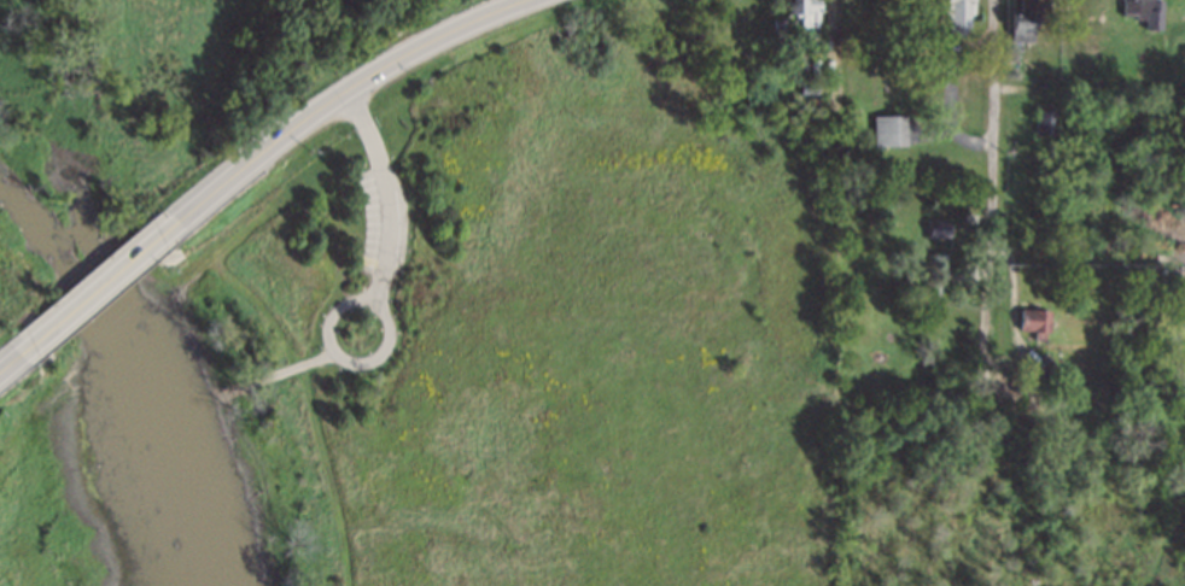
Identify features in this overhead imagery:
building: (1146, 11)
building: (807, 12)
building: (958, 17)
building: (1023, 28)
road: (343, 94)
building: (1047, 119)
building: (891, 131)
road: (990, 184)
parking lot: (372, 219)
building: (939, 229)
road: (1087, 254)
river: (59, 260)
road: (101, 286)
road: (378, 292)
road: (273, 318)
building: (1037, 323)
road: (100, 358)
river: (101, 358)
road: (317, 359)
road: (10, 364)
river: (163, 470)
road: (1163, 549)

